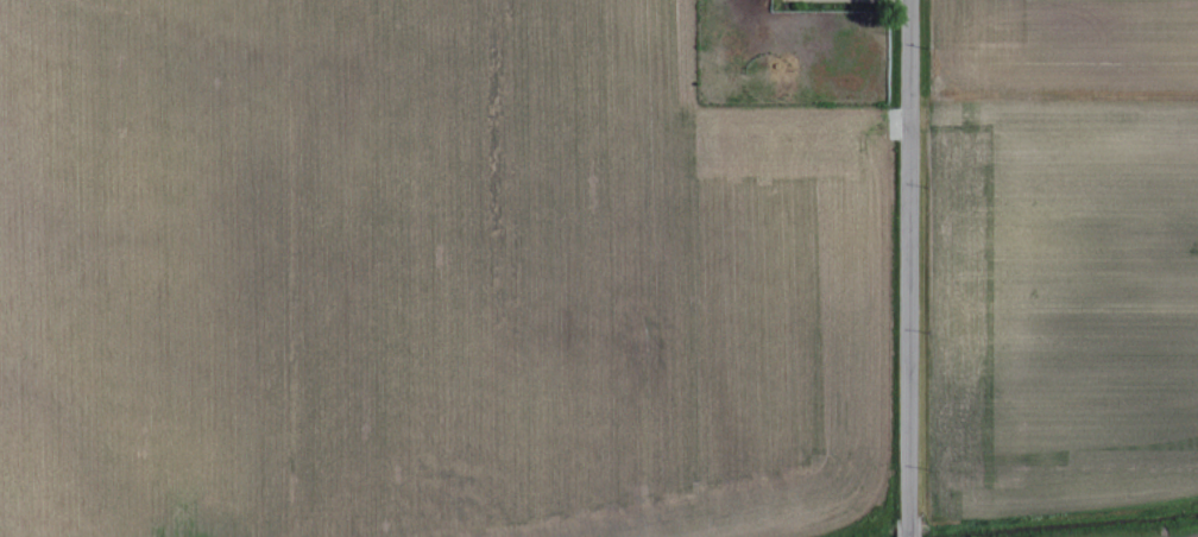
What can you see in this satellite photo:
road: (906, 267)
crop: (1052, 268)
crop: (430, 278)

